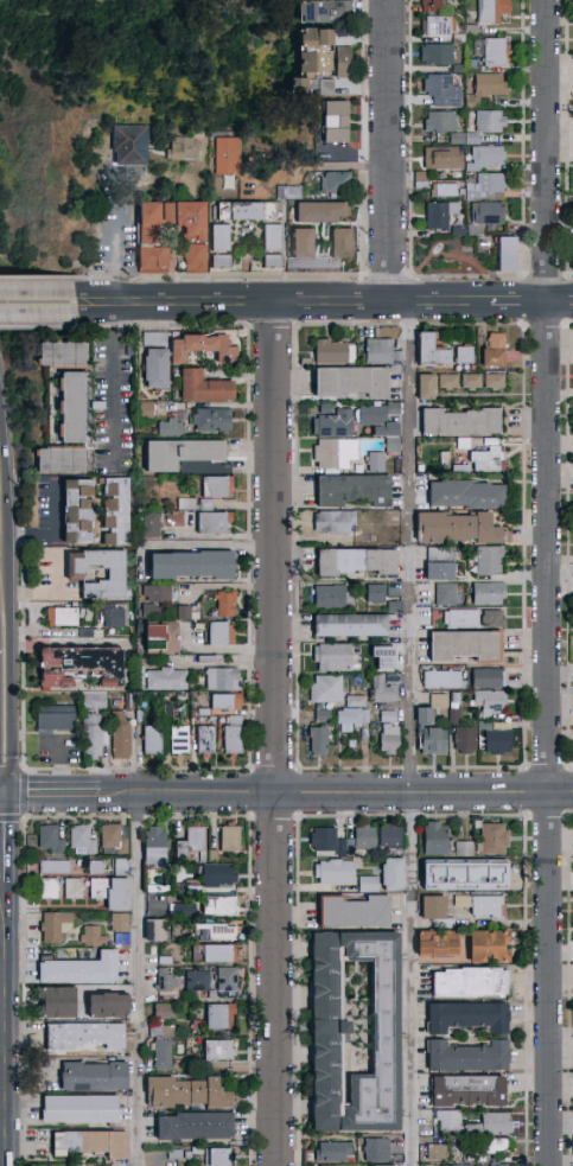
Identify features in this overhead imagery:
building: (433, 6)
building: (327, 9)
building: (495, 11)
building: (440, 27)
building: (467, 34)
building: (494, 52)
building: (325, 53)
building: (439, 56)
building: (300, 60)
building: (475, 65)
building: (460, 70)
building: (289, 83)
building: (440, 85)
building: (314, 87)
building: (488, 90)
building: (337, 121)
building: (443, 122)
building: (491, 122)
building: (459, 140)
building: (475, 140)
building: (132, 145)
building: (184, 149)
road: (390, 152)
building: (229, 155)
building: (488, 159)
building: (445, 160)
road: (329, 167)
building: (339, 181)
building: (424, 181)
building: (488, 187)
building: (445, 191)
building: (291, 192)
building: (249, 211)
building: (323, 211)
building: (441, 216)
building: (486, 218)
building: (460, 232)
building: (196, 237)
building: (274, 237)
building: (222, 238)
road: (115, 243)
building: (344, 243)
building: (571, 250)
building: (308, 255)
building: (509, 255)
building: (227, 265)
building: (269, 265)
road: (520, 302)
road: (560, 302)
road: (37, 304)
road: (282, 304)
building: (151, 339)
building: (197, 346)
building: (433, 351)
building: (496, 351)
building: (61, 352)
building: (336, 352)
building: (384, 352)
building: (466, 355)
building: (308, 363)
building: (151, 367)
building: (397, 370)
building: (355, 382)
building: (451, 382)
building: (472, 382)
building: (496, 382)
building: (198, 386)
road: (115, 387)
building: (428, 387)
building: (66, 406)
building: (141, 408)
building: (327, 409)
building: (380, 414)
building: (209, 418)
building: (464, 422)
building: (336, 425)
building: (166, 426)
building: (394, 437)
building: (494, 442)
building: (466, 445)
building: (174, 452)
building: (337, 454)
building: (56, 458)
building: (447, 459)
building: (490, 460)
building: (378, 463)
building: (401, 467)
building: (464, 470)
building: (215, 484)
building: (356, 490)
building: (469, 495)
building: (74, 508)
building: (113, 508)
building: (208, 521)
building: (148, 523)
building: (335, 523)
building: (463, 529)
road: (57, 530)
building: (492, 561)
building: (358, 562)
building: (185, 563)
building: (443, 565)
building: (94, 572)
road: (9, 581)
road: (549, 582)
building: (491, 593)
road: (33, 594)
building: (378, 594)
building: (448, 595)
building: (152, 599)
building: (332, 599)
building: (222, 603)
building: (397, 607)
building: (182, 611)
building: (110, 614)
building: (61, 616)
building: (464, 619)
building: (495, 619)
building: (355, 625)
building: (217, 631)
building: (155, 636)
building: (469, 646)
building: (335, 657)
building: (386, 657)
building: (79, 661)
building: (46, 677)
building: (165, 677)
building: (219, 677)
building: (395, 680)
building: (491, 680)
building: (445, 681)
building: (329, 689)
building: (386, 692)
building: (94, 699)
building: (437, 699)
building: (223, 700)
building: (358, 702)
building: (445, 702)
building: (494, 702)
building: (457, 709)
building: (420, 714)
building: (325, 716)
building: (390, 718)
building: (57, 719)
building: (354, 719)
building: (486, 726)
building: (230, 733)
building: (433, 733)
building: (91, 734)
road: (275, 734)
road: (413, 734)
building: (119, 735)
building: (151, 738)
building: (178, 738)
building: (204, 738)
building: (467, 740)
building: (321, 741)
building: (393, 741)
building: (501, 743)
parking lot: (62, 748)
road: (63, 769)
road: (5, 795)
traffic signals: (9, 795)
road: (36, 796)
road: (318, 796)
building: (387, 834)
building: (113, 836)
building: (47, 837)
building: (193, 837)
building: (227, 837)
building: (432, 837)
building: (491, 837)
building: (338, 839)
road: (9, 840)
building: (81, 840)
building: (151, 846)
building: (177, 847)
building: (461, 848)
building: (52, 866)
building: (95, 866)
building: (119, 866)
building: (331, 871)
building: (387, 873)
building: (216, 874)
building: (460, 874)
building: (365, 883)
building: (46, 887)
building: (71, 887)
building: (108, 892)
building: (483, 903)
building: (216, 904)
road: (55, 907)
building: (183, 907)
building: (350, 911)
building: (432, 911)
building: (117, 922)
building: (52, 925)
building: (151, 929)
building: (217, 931)
building: (90, 932)
building: (120, 939)
building: (431, 943)
building: (483, 945)
building: (216, 952)
building: (76, 969)
building: (223, 977)
building: (163, 979)
building: (195, 980)
road: (140, 981)
building: (465, 981)
building: (52, 1002)
building: (101, 1005)
building: (160, 1009)
building: (216, 1015)
building: (463, 1015)
road: (11, 1025)
building: (166, 1030)
building: (349, 1031)
building: (81, 1034)
building: (214, 1049)
building: (160, 1053)
building: (463, 1056)
building: (89, 1075)
building: (463, 1090)
building: (183, 1092)
building: (76, 1108)
building: (446, 1119)
building: (488, 1123)
building: (191, 1124)
building: (89, 1141)
building: (490, 1145)
building: (374, 1148)
building: (331, 1149)
building: (432, 1151)
building: (215, 1157)
building: (458, 1164)
building: (496, 1164)
building: (380, 1165)

